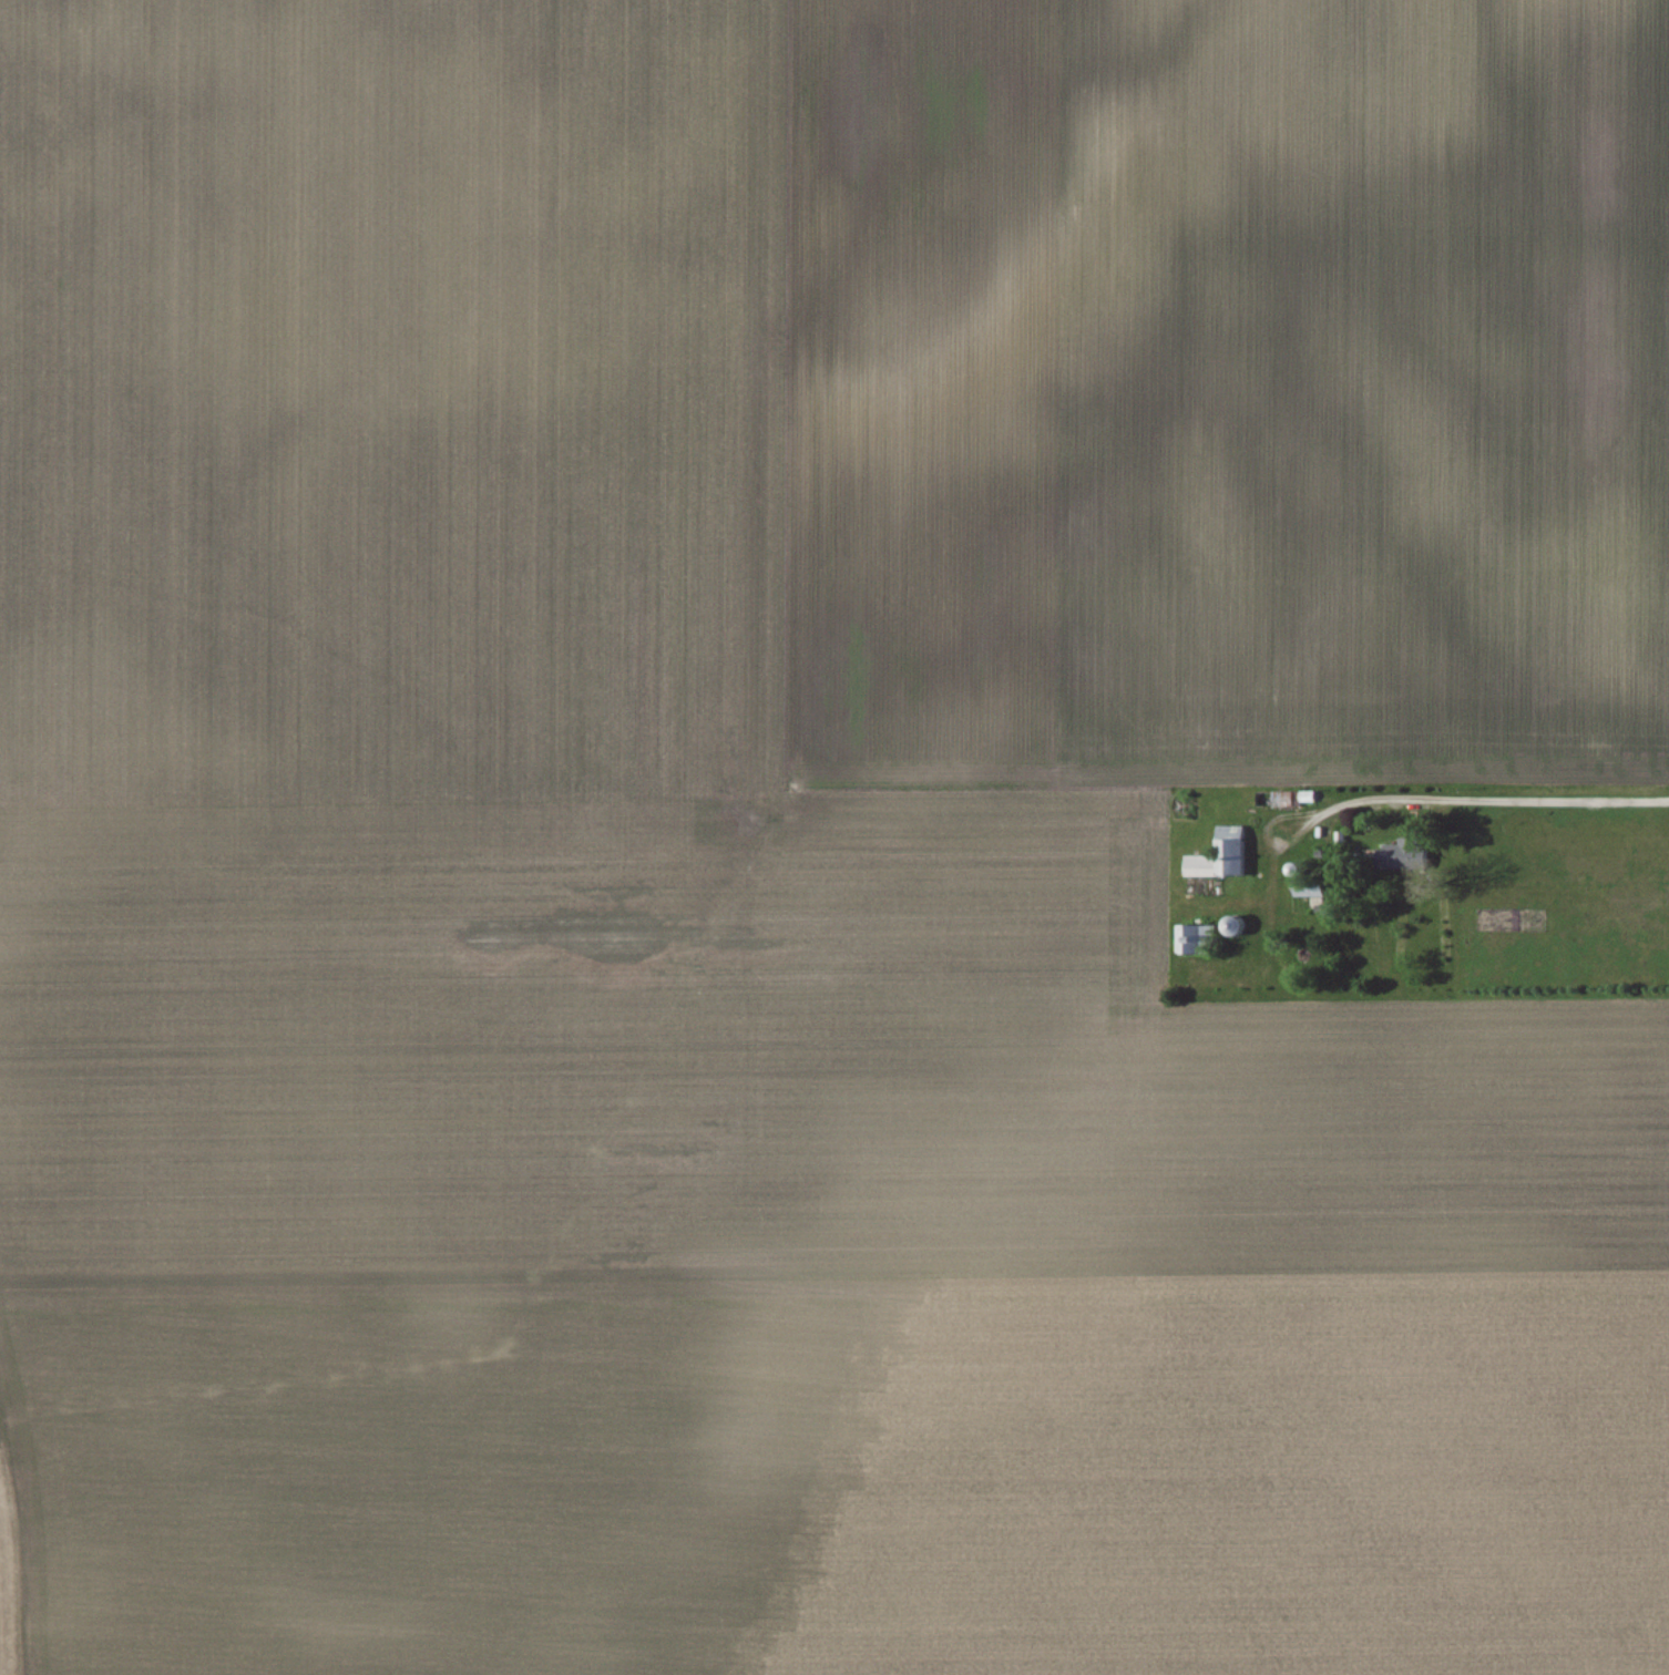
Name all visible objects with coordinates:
road: (1492, 801)
building: (1223, 855)
building: (1311, 888)
building: (1190, 936)

